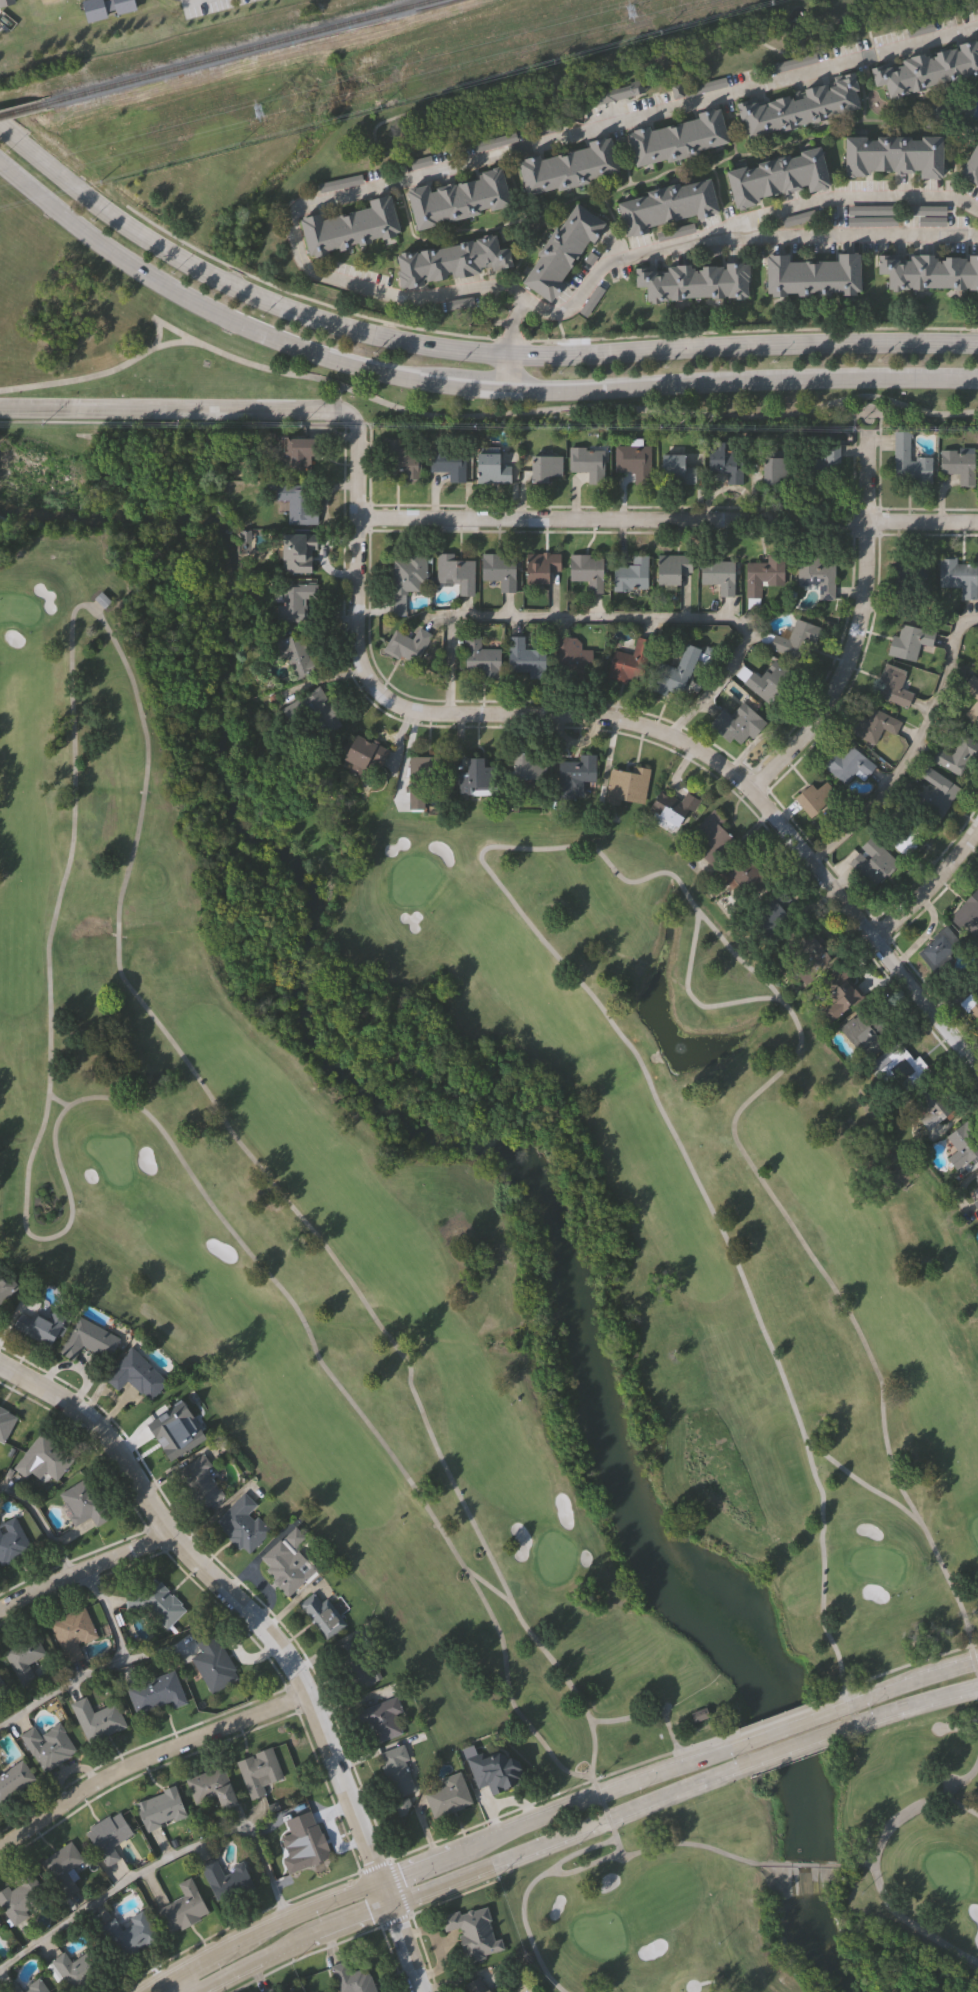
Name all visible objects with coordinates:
building: (177, 0)
park: (47, 1)
building: (6, 3)
building: (105, 8)
power tower: (632, 10)
railway: (241, 52)
building: (792, 60)
building: (928, 66)
building: (697, 87)
building: (618, 92)
building: (800, 107)
railway: (23, 110)
power tower: (258, 112)
building: (679, 137)
building: (495, 139)
building: (894, 155)
building: (971, 166)
building: (567, 167)
building: (778, 176)
building: (340, 183)
road: (849, 197)
building: (456, 198)
building: (666, 205)
building: (926, 214)
building: (870, 216)
building: (349, 227)
building: (675, 231)
road: (295, 238)
building: (562, 251)
building: (451, 262)
building: (929, 272)
building: (812, 277)
building: (694, 282)
road: (205, 309)
road: (158, 321)
road: (510, 327)
road: (538, 341)
road: (459, 350)
road: (508, 372)
road: (742, 384)
road: (475, 386)
road: (337, 391)
park: (679, 408)
road: (166, 411)
road: (864, 413)
road: (481, 415)
building: (298, 450)
building: (725, 460)
building: (908, 460)
building: (632, 461)
building: (587, 463)
building: (405, 465)
building: (448, 465)
building: (825, 465)
building: (958, 466)
building: (543, 467)
building: (490, 468)
building: (773, 469)
building: (674, 470)
building: (295, 503)
road: (667, 519)
building: (298, 550)
building: (539, 568)
building: (670, 568)
building: (585, 571)
building: (498, 572)
building: (454, 573)
building: (631, 575)
building: (764, 575)
building: (717, 576)
building: (817, 576)
building: (957, 578)
building: (407, 579)
building: (908, 579)
building: (292, 600)
road: (622, 616)
road: (850, 639)
building: (795, 641)
building: (909, 642)
building: (405, 646)
building: (290, 653)
building: (523, 658)
building: (572, 658)
building: (479, 659)
building: (630, 663)
building: (674, 674)
building: (766, 681)
building: (893, 688)
building: (317, 711)
road: (603, 716)
building: (737, 724)
building: (877, 726)
road: (912, 745)
road: (74, 754)
building: (363, 755)
building: (952, 757)
building: (849, 764)
building: (526, 767)
building: (574, 775)
building: (473, 776)
building: (423, 777)
building: (626, 787)
building: (936, 794)
building: (670, 809)
building: (906, 833)
building: (709, 838)
road: (568, 845)
building: (876, 865)
building: (744, 872)
road: (928, 886)
building: (768, 912)
building: (967, 917)
road: (926, 933)
building: (941, 951)
building: (804, 957)
building: (836, 994)
road: (957, 994)
road: (693, 999)
building: (974, 1012)
building: (865, 1032)
building: (897, 1068)
road: (58, 1100)
building: (930, 1103)
building: (962, 1144)
building: (976, 1178)
building: (975, 1205)
building: (5, 1284)
park: (512, 1288)
building: (44, 1325)
building: (87, 1339)
road: (76, 1367)
building: (133, 1375)
building: (5, 1423)
building: (166, 1436)
building: (41, 1458)
building: (199, 1482)
road: (862, 1483)
building: (82, 1503)
road: (40, 1524)
building: (241, 1524)
building: (11, 1540)
building: (287, 1563)
road: (85, 1568)
road: (262, 1583)
road: (300, 1597)
building: (154, 1603)
building: (321, 1613)
building: (71, 1633)
road: (272, 1634)
road: (970, 1647)
building: (22, 1657)
road: (974, 1659)
building: (211, 1663)
road: (909, 1664)
building: (357, 1666)
road: (100, 1667)
road: (977, 1671)
road: (905, 1682)
building: (1, 1686)
building: (155, 1693)
road: (836, 1695)
road: (908, 1705)
road: (782, 1716)
building: (380, 1718)
building: (96, 1720)
road: (784, 1725)
road: (958, 1729)
road: (709, 1741)
building: (46, 1745)
road: (794, 1746)
road: (592, 1751)
road: (147, 1758)
building: (399, 1770)
building: (258, 1772)
building: (492, 1772)
building: (13, 1779)
building: (210, 1787)
road: (598, 1792)
building: (447, 1795)
road: (535, 1802)
road: (603, 1806)
building: (158, 1809)
road: (608, 1820)
building: (107, 1837)
road: (616, 1842)
road: (655, 1847)
building: (303, 1848)
road: (438, 1855)
road: (874, 1859)
road: (160, 1860)
road: (801, 1864)
road: (856, 1865)
road: (374, 1866)
building: (61, 1867)
road: (472, 1873)
building: (224, 1879)
road: (398, 1887)
road: (525, 1894)
building: (18, 1897)
road: (454, 1897)
building: (183, 1907)
road: (394, 1921)
road: (234, 1925)
building: (0, 1926)
building: (472, 1932)
building: (133, 1933)
road: (304, 1955)
building: (75, 1968)
building: (352, 1979)
road: (180, 1984)
building: (476, 1985)
building: (34, 1986)
building: (10, 1987)
road: (691, 1989)
building: (268, 1990)
building: (273, 1991)

